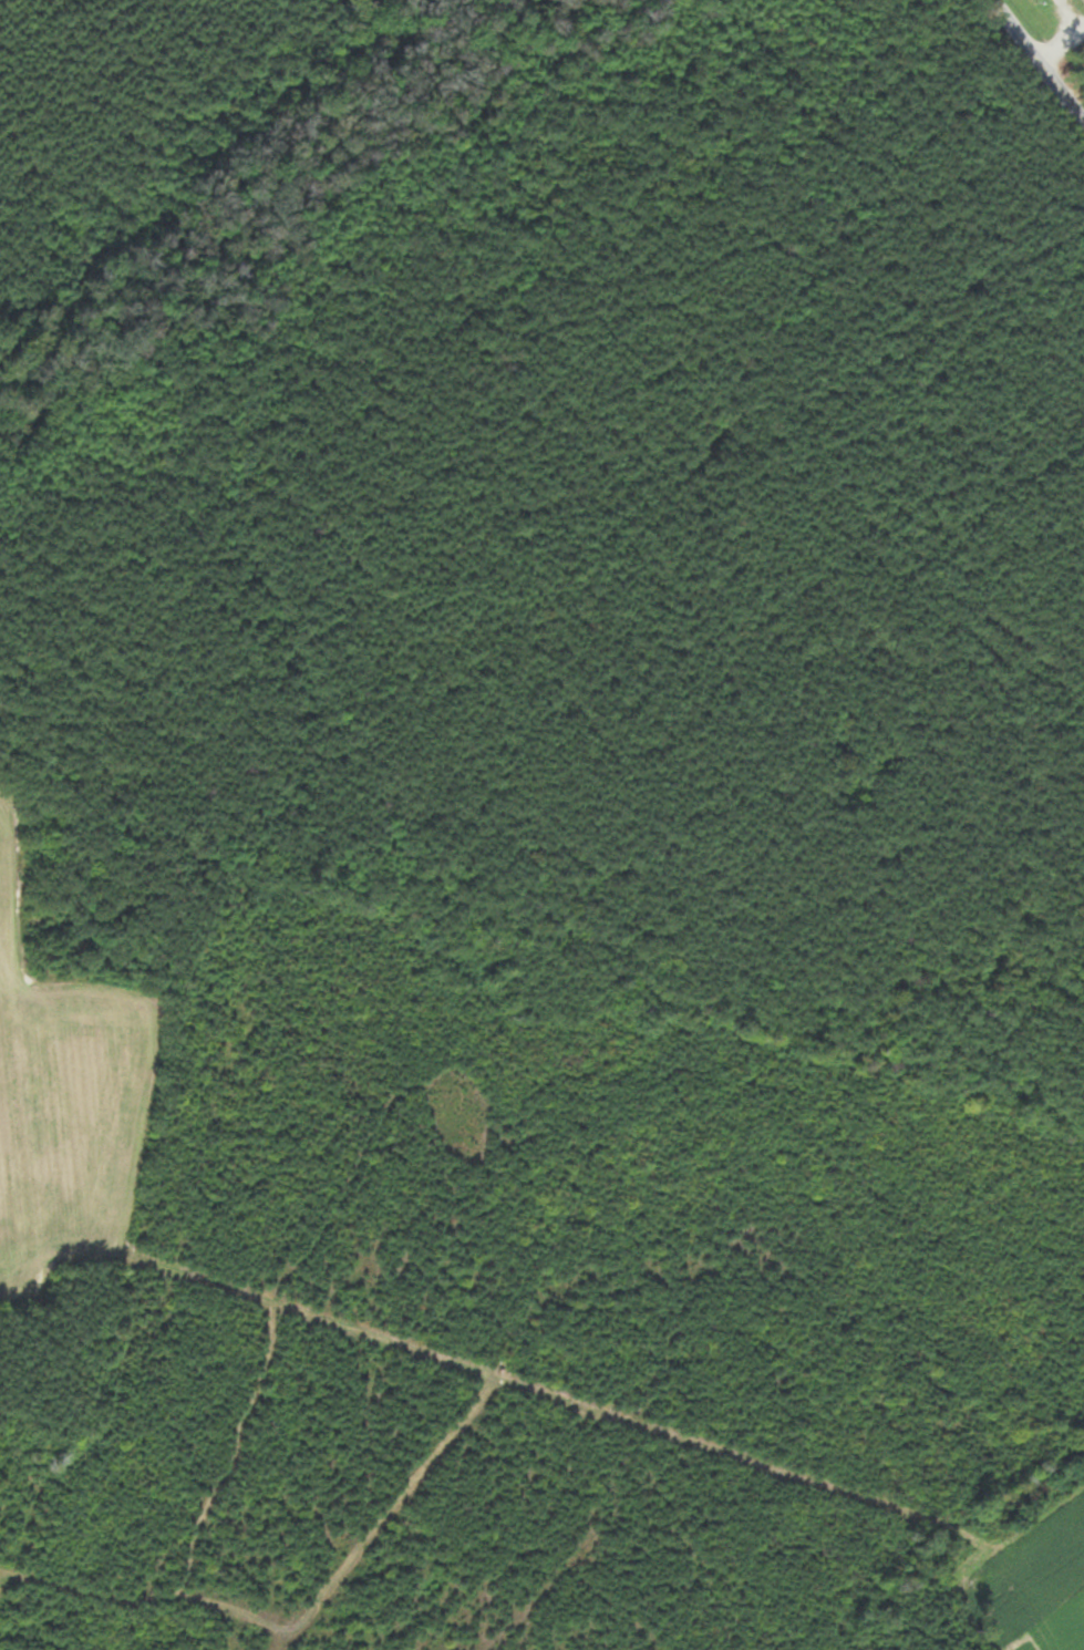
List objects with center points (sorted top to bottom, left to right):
building: (1080, 6)
road: (1072, 13)
road: (1060, 41)
road: (1039, 61)

